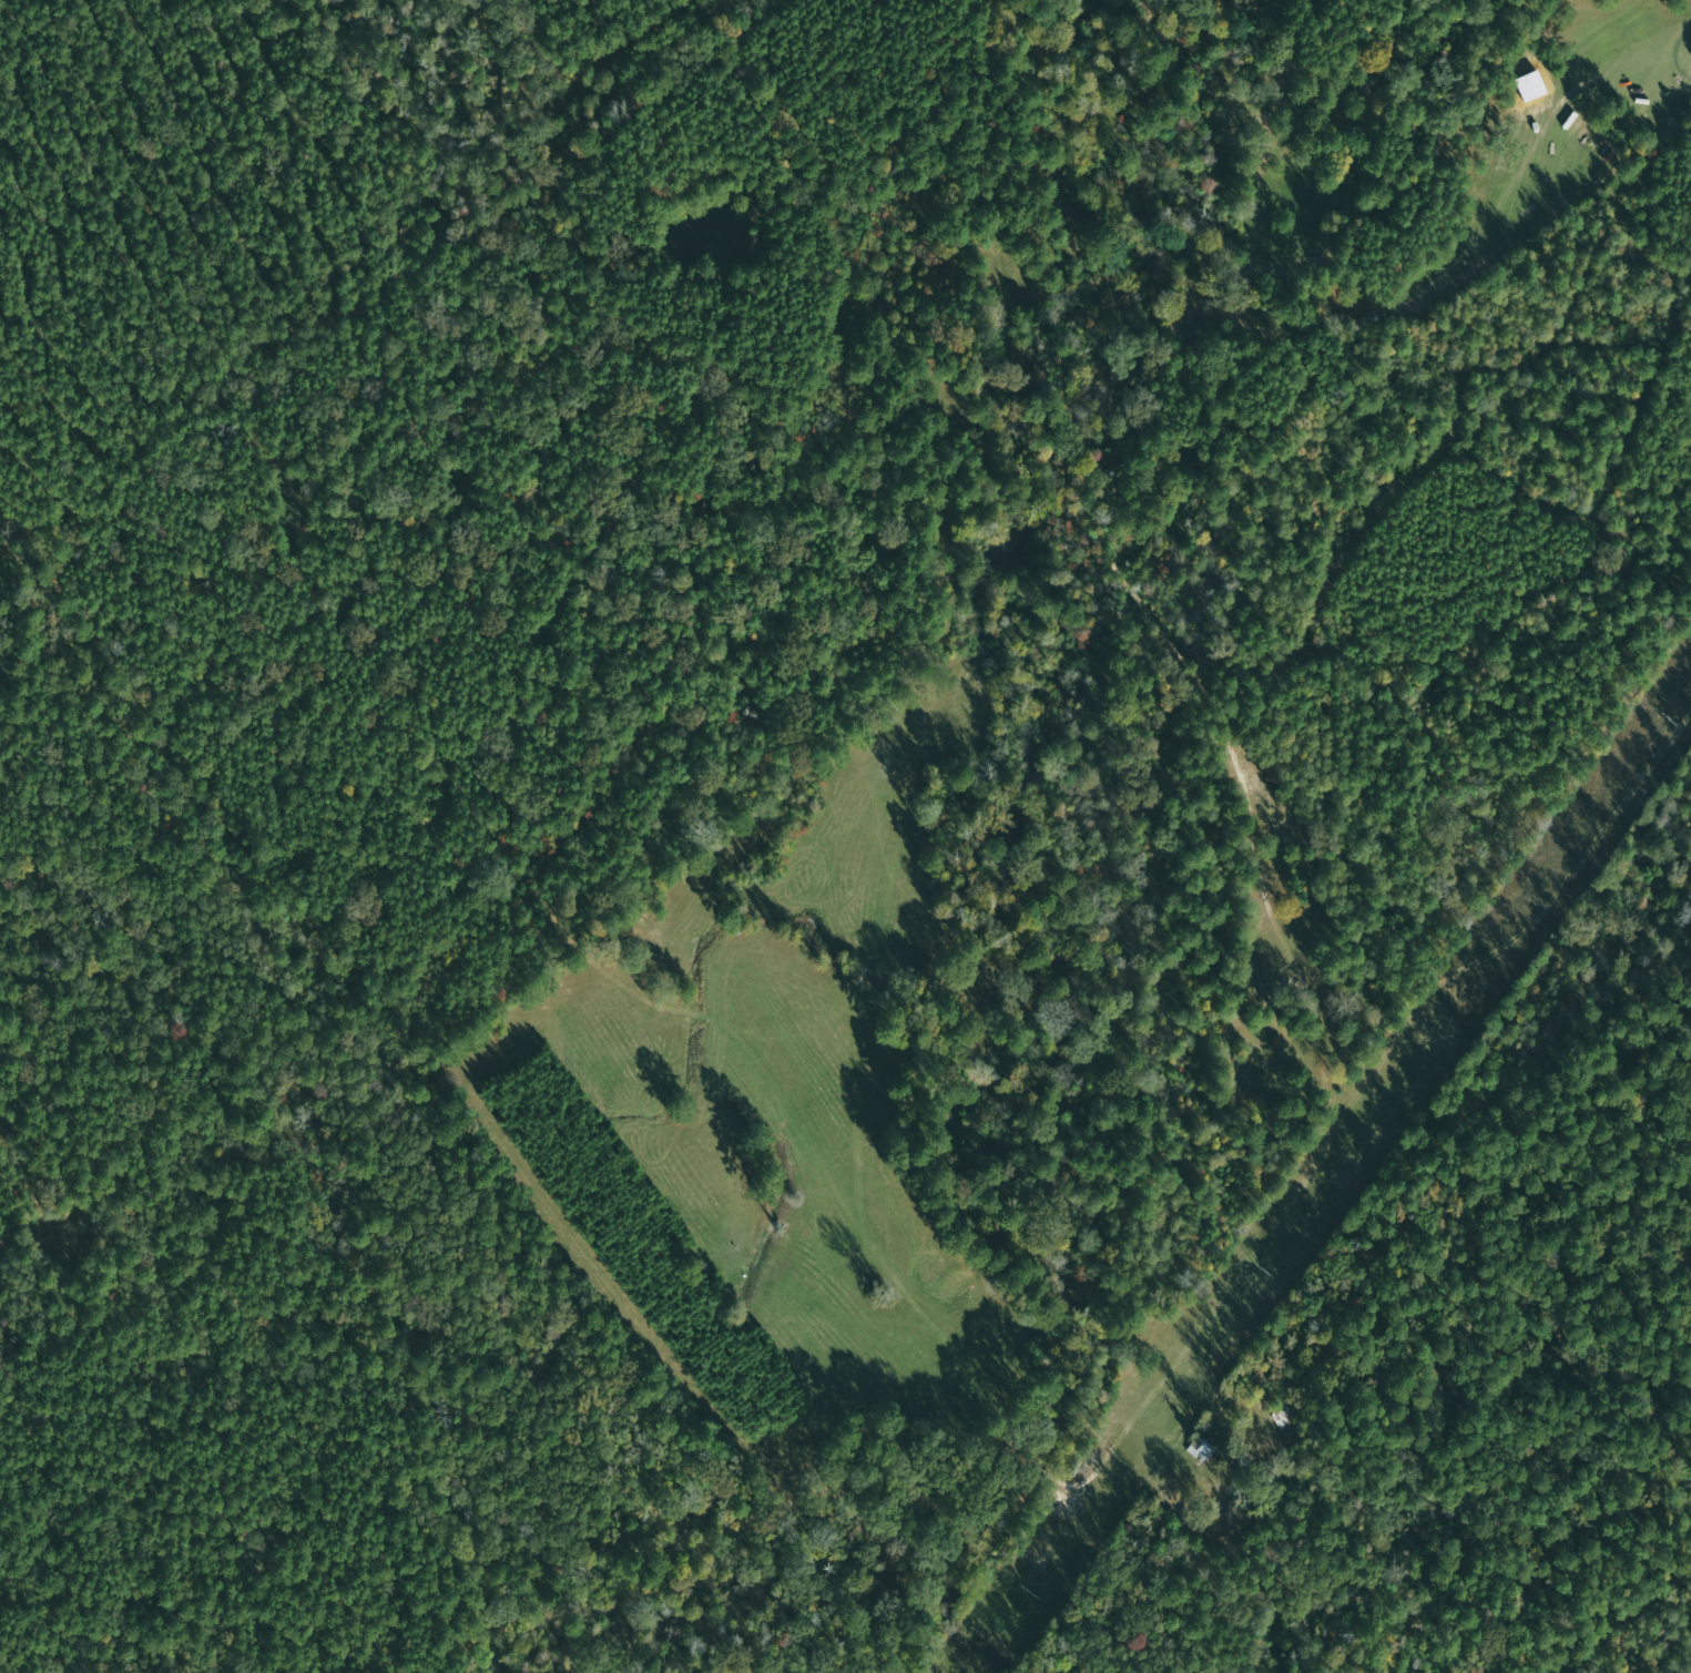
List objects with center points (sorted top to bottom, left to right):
power tower: (1662, 716)
power tower: (1432, 1030)
power tower: (1261, 1267)
building: (1282, 1412)
building: (1198, 1449)
power tower: (1026, 1590)

